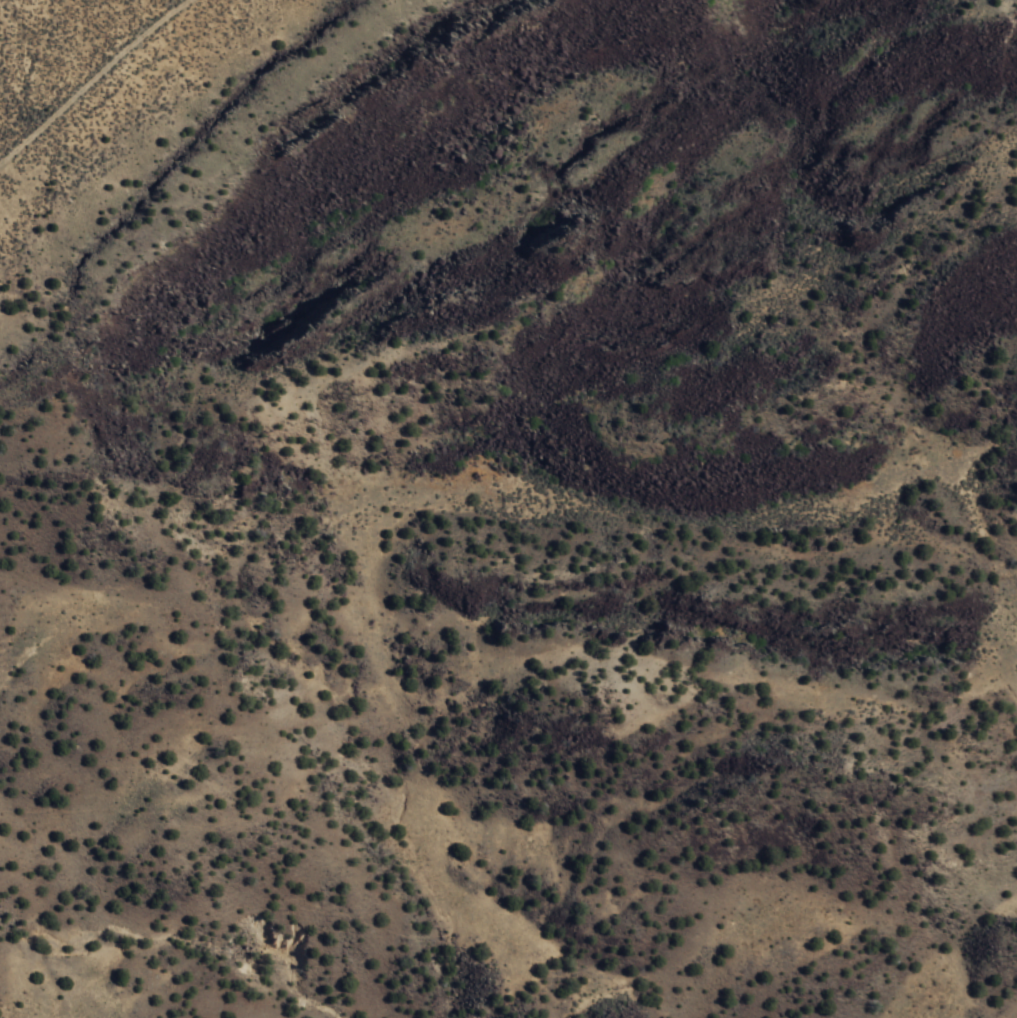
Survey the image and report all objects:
road: (39, 22)
road: (490, 615)
road: (502, 794)

